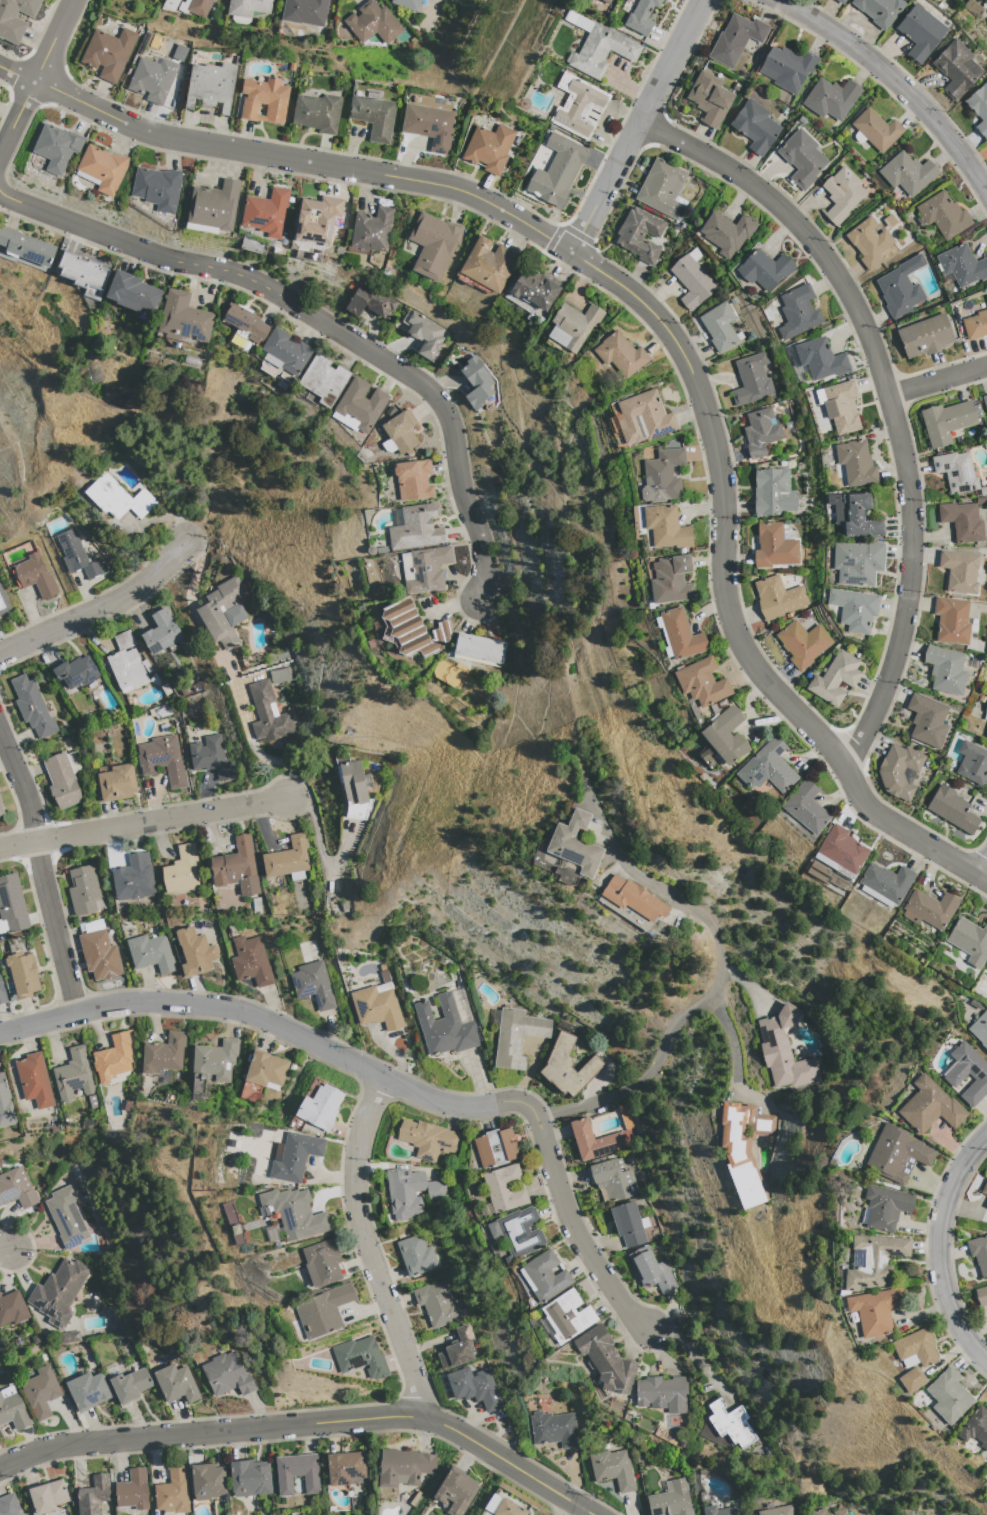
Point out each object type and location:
building: (613, 0)
building: (606, 1)
building: (840, 1)
building: (985, 1)
building: (413, 5)
building: (194, 7)
building: (246, 9)
building: (879, 10)
building: (304, 11)
building: (641, 16)
building: (15, 18)
building: (372, 23)
building: (986, 23)
building: (919, 32)
building: (735, 39)
road: (52, 41)
building: (601, 51)
building: (108, 53)
building: (787, 68)
building: (956, 69)
building: (152, 79)
road: (895, 80)
building: (210, 86)
building: (709, 98)
building: (830, 98)
building: (263, 101)
building: (578, 106)
building: (979, 108)
building: (317, 113)
road: (16, 115)
building: (373, 116)
building: (429, 125)
road: (638, 126)
building: (755, 127)
building: (876, 130)
building: (56, 147)
building: (488, 148)
road: (286, 158)
building: (802, 159)
building: (101, 169)
building: (557, 170)
building: (907, 173)
building: (157, 188)
building: (662, 188)
building: (841, 194)
building: (212, 207)
building: (266, 213)
building: (943, 215)
building: (317, 219)
road: (800, 229)
building: (372, 230)
building: (727, 232)
building: (639, 235)
building: (868, 242)
building: (433, 244)
building: (26, 247)
building: (488, 265)
building: (962, 265)
building: (764, 269)
building: (83, 273)
building: (691, 282)
building: (535, 287)
building: (900, 287)
building: (132, 292)
building: (986, 297)
building: (370, 303)
building: (797, 312)
building: (183, 318)
road: (316, 321)
building: (244, 323)
building: (975, 325)
building: (572, 326)
building: (719, 327)
building: (424, 333)
building: (924, 336)
building: (284, 352)
building: (620, 355)
building: (820, 359)
building: (751, 379)
building: (323, 380)
building: (476, 382)
road: (938, 383)
building: (985, 402)
building: (358, 406)
building: (839, 406)
building: (644, 418)
building: (945, 422)
building: (399, 432)
building: (760, 432)
building: (855, 463)
building: (956, 472)
building: (662, 476)
building: (413, 480)
building: (772, 492)
building: (117, 498)
building: (853, 514)
building: (962, 520)
building: (415, 527)
building: (666, 527)
building: (773, 547)
building: (77, 556)
building: (857, 563)
building: (424, 569)
building: (959, 571)
building: (35, 576)
building: (671, 580)
road: (910, 588)
road: (725, 595)
building: (777, 597)
building: (3, 604)
road: (99, 608)
building: (853, 609)
building: (223, 613)
building: (951, 620)
building: (414, 629)
building: (161, 632)
building: (680, 635)
building: (802, 643)
building: (478, 648)
building: (126, 664)
building: (945, 670)
building: (75, 672)
building: (834, 678)
building: (701, 682)
building: (32, 707)
building: (985, 713)
building: (267, 714)
building: (926, 720)
building: (986, 733)
building: (725, 736)
building: (210, 757)
building: (162, 760)
building: (972, 763)
building: (767, 768)
building: (898, 770)
building: (61, 782)
building: (116, 783)
building: (354, 789)
building: (805, 807)
building: (1, 808)
building: (952, 810)
road: (144, 823)
building: (574, 845)
building: (842, 850)
building: (287, 858)
building: (236, 867)
building: (181, 870)
road: (982, 870)
road: (42, 875)
building: (133, 878)
building: (886, 882)
building: (84, 891)
building: (632, 898)
building: (11, 905)
building: (928, 909)
building: (969, 940)
building: (194, 952)
building: (150, 953)
building: (99, 955)
building: (250, 961)
road: (720, 972)
building: (986, 973)
building: (22, 974)
building: (312, 985)
building: (1, 994)
building: (377, 1004)
road: (276, 1027)
building: (444, 1027)
building: (980, 1029)
building: (516, 1037)
building: (784, 1051)
road: (735, 1052)
building: (163, 1054)
building: (113, 1058)
building: (215, 1060)
building: (567, 1067)
building: (265, 1070)
building: (954, 1074)
building: (73, 1075)
building: (33, 1080)
building: (5, 1106)
building: (930, 1106)
building: (319, 1107)
building: (428, 1139)
building: (598, 1140)
building: (494, 1147)
building: (743, 1149)
building: (897, 1154)
building: (290, 1157)
building: (612, 1180)
building: (16, 1188)
building: (505, 1188)
building: (984, 1188)
building: (410, 1193)
building: (986, 1206)
building: (884, 1207)
building: (293, 1213)
building: (66, 1216)
building: (627, 1224)
building: (519, 1232)
road: (575, 1237)
road: (938, 1249)
road: (6, 1250)
road: (366, 1250)
building: (979, 1253)
building: (415, 1255)
building: (872, 1260)
building: (322, 1263)
building: (651, 1270)
building: (545, 1276)
building: (58, 1292)
building: (981, 1296)
building: (436, 1304)
building: (12, 1309)
building: (322, 1310)
building: (874, 1311)
building: (566, 1316)
building: (457, 1349)
building: (915, 1349)
building: (360, 1357)
building: (605, 1360)
building: (226, 1375)
building: (911, 1380)
building: (175, 1383)
building: (130, 1385)
building: (473, 1387)
building: (88, 1390)
building: (40, 1392)
building: (662, 1393)
building: (948, 1396)
building: (12, 1409)
building: (730, 1423)
road: (306, 1425)
building: (975, 1427)
building: (553, 1429)
building: (403, 1467)
building: (344, 1468)
building: (612, 1468)
building: (297, 1473)
building: (249, 1478)
building: (207, 1481)
building: (132, 1490)
building: (456, 1491)
building: (173, 1492)
building: (93, 1495)
building: (47, 1496)
building: (671, 1500)
building: (492, 1504)
building: (8, 1505)
building: (508, 1509)
road: (575, 1511)
building: (720, 1511)
building: (777, 1511)
building: (817, 1512)
building: (839, 1512)

